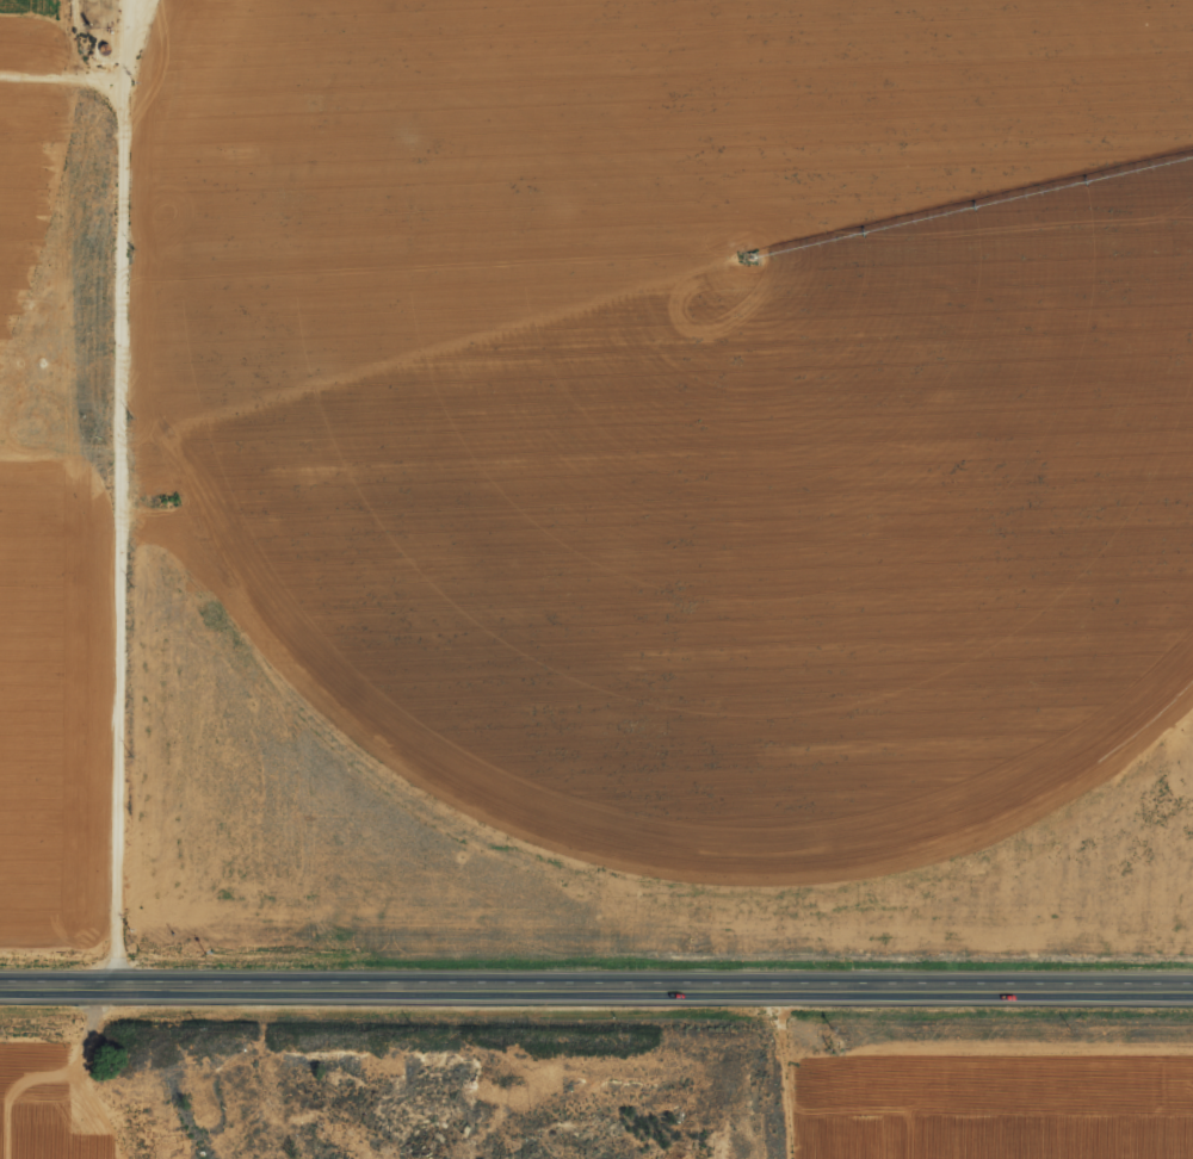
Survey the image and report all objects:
road: (126, 496)
road: (596, 993)

